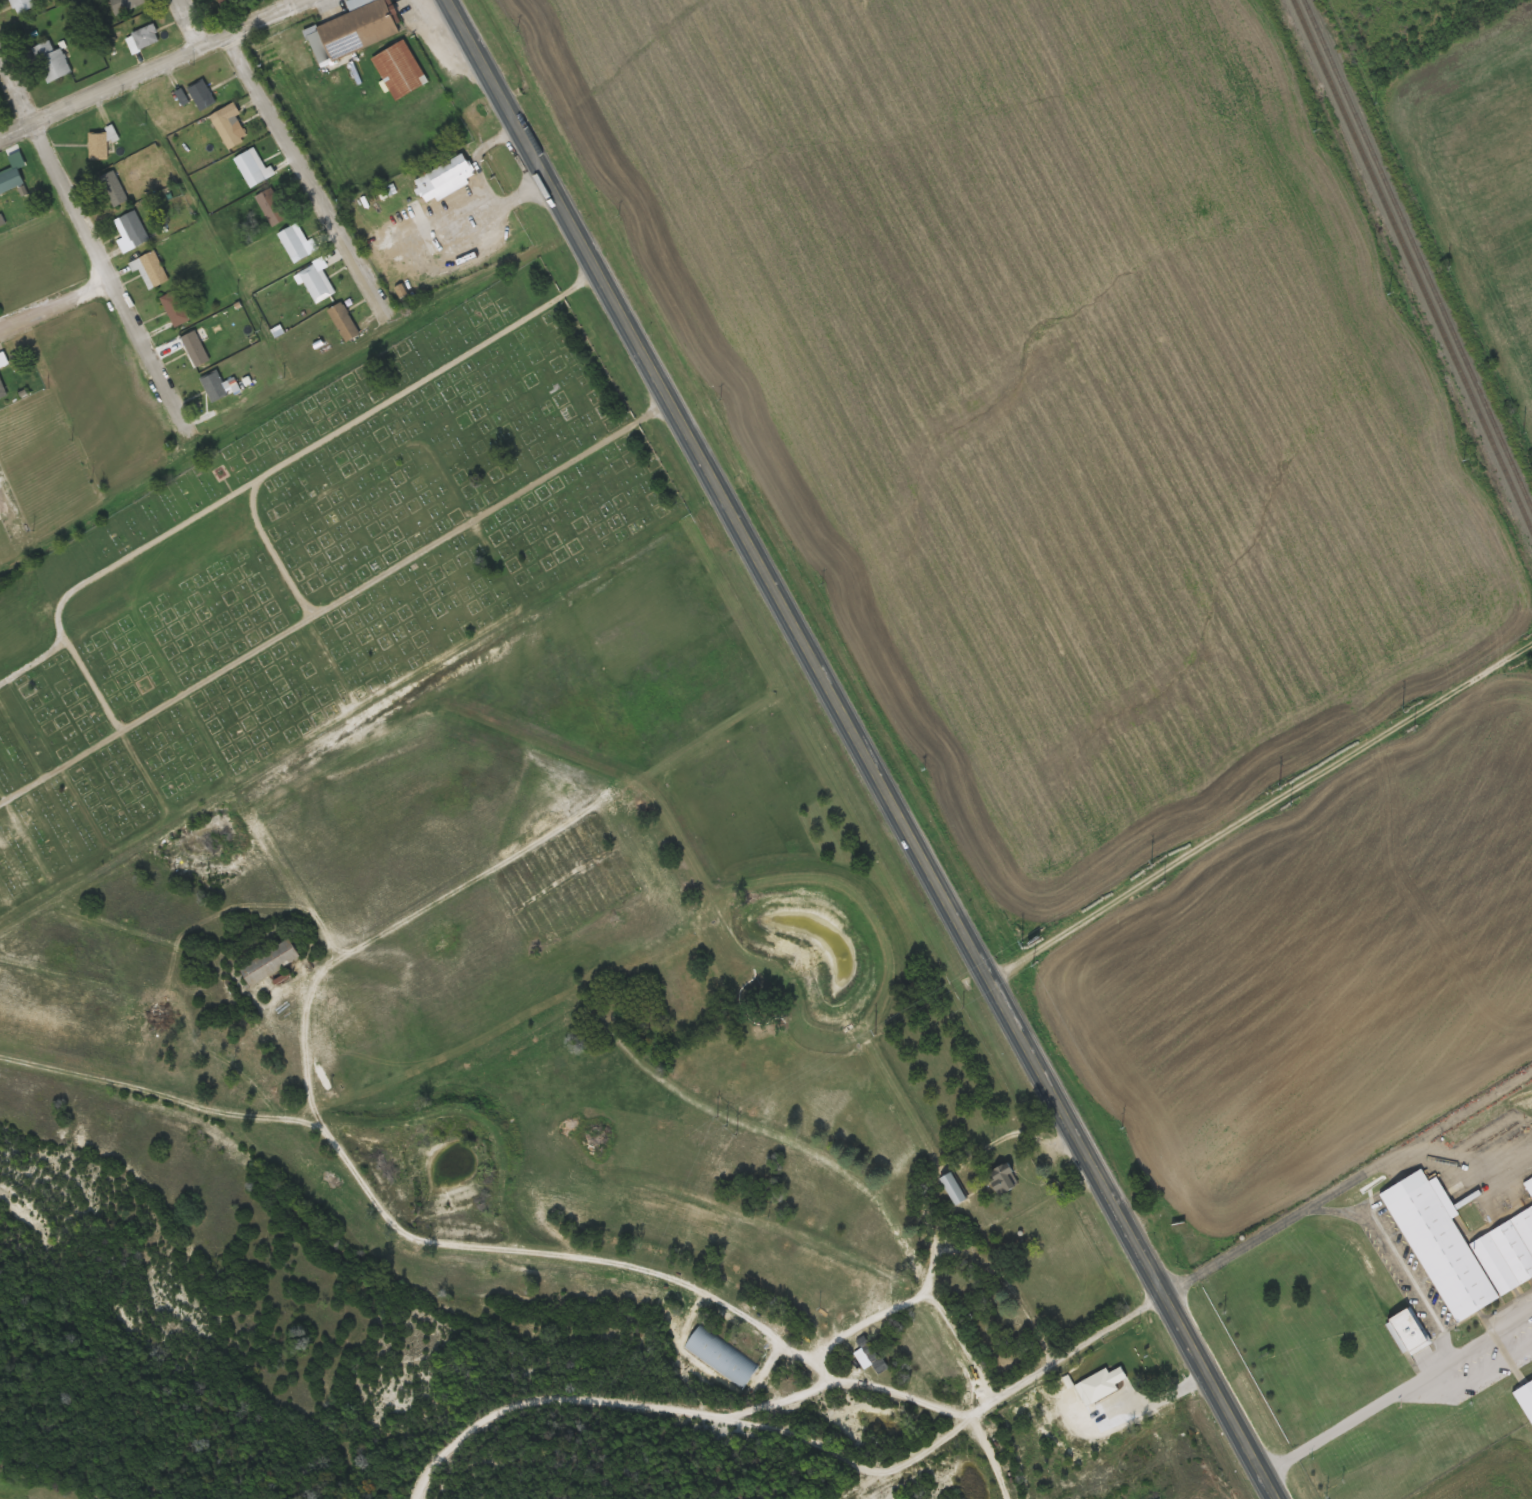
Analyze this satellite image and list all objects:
building: (228, 2)
building: (127, 5)
building: (23, 6)
road: (187, 23)
building: (356, 32)
building: (144, 40)
building: (53, 63)
road: (151, 65)
building: (402, 71)
building: (200, 95)
building: (230, 132)
building: (100, 146)
building: (252, 170)
road: (305, 177)
building: (446, 178)
building: (11, 182)
building: (115, 190)
building: (284, 227)
building: (136, 229)
road: (584, 251)
road: (84, 252)
railway: (1417, 256)
railway: (1412, 265)
building: (155, 269)
building: (316, 284)
building: (176, 309)
road: (51, 313)
building: (344, 322)
building: (195, 351)
building: (4, 360)
building: (219, 387)
building: (3, 389)
road: (263, 476)
building: (376, 502)
road: (10, 516)
road: (273, 553)
park: (308, 573)
road: (335, 602)
road: (1260, 812)
road: (396, 921)
building: (273, 962)
road: (1000, 1001)
power tower: (724, 1126)
road: (1464, 1161)
road: (1346, 1181)
building: (954, 1191)
road: (471, 1245)
building: (1465, 1253)
road: (1392, 1255)
building: (1412, 1333)
road: (1065, 1354)
building: (869, 1356)
road: (1472, 1375)
road: (1397, 1389)
building: (1527, 1394)

